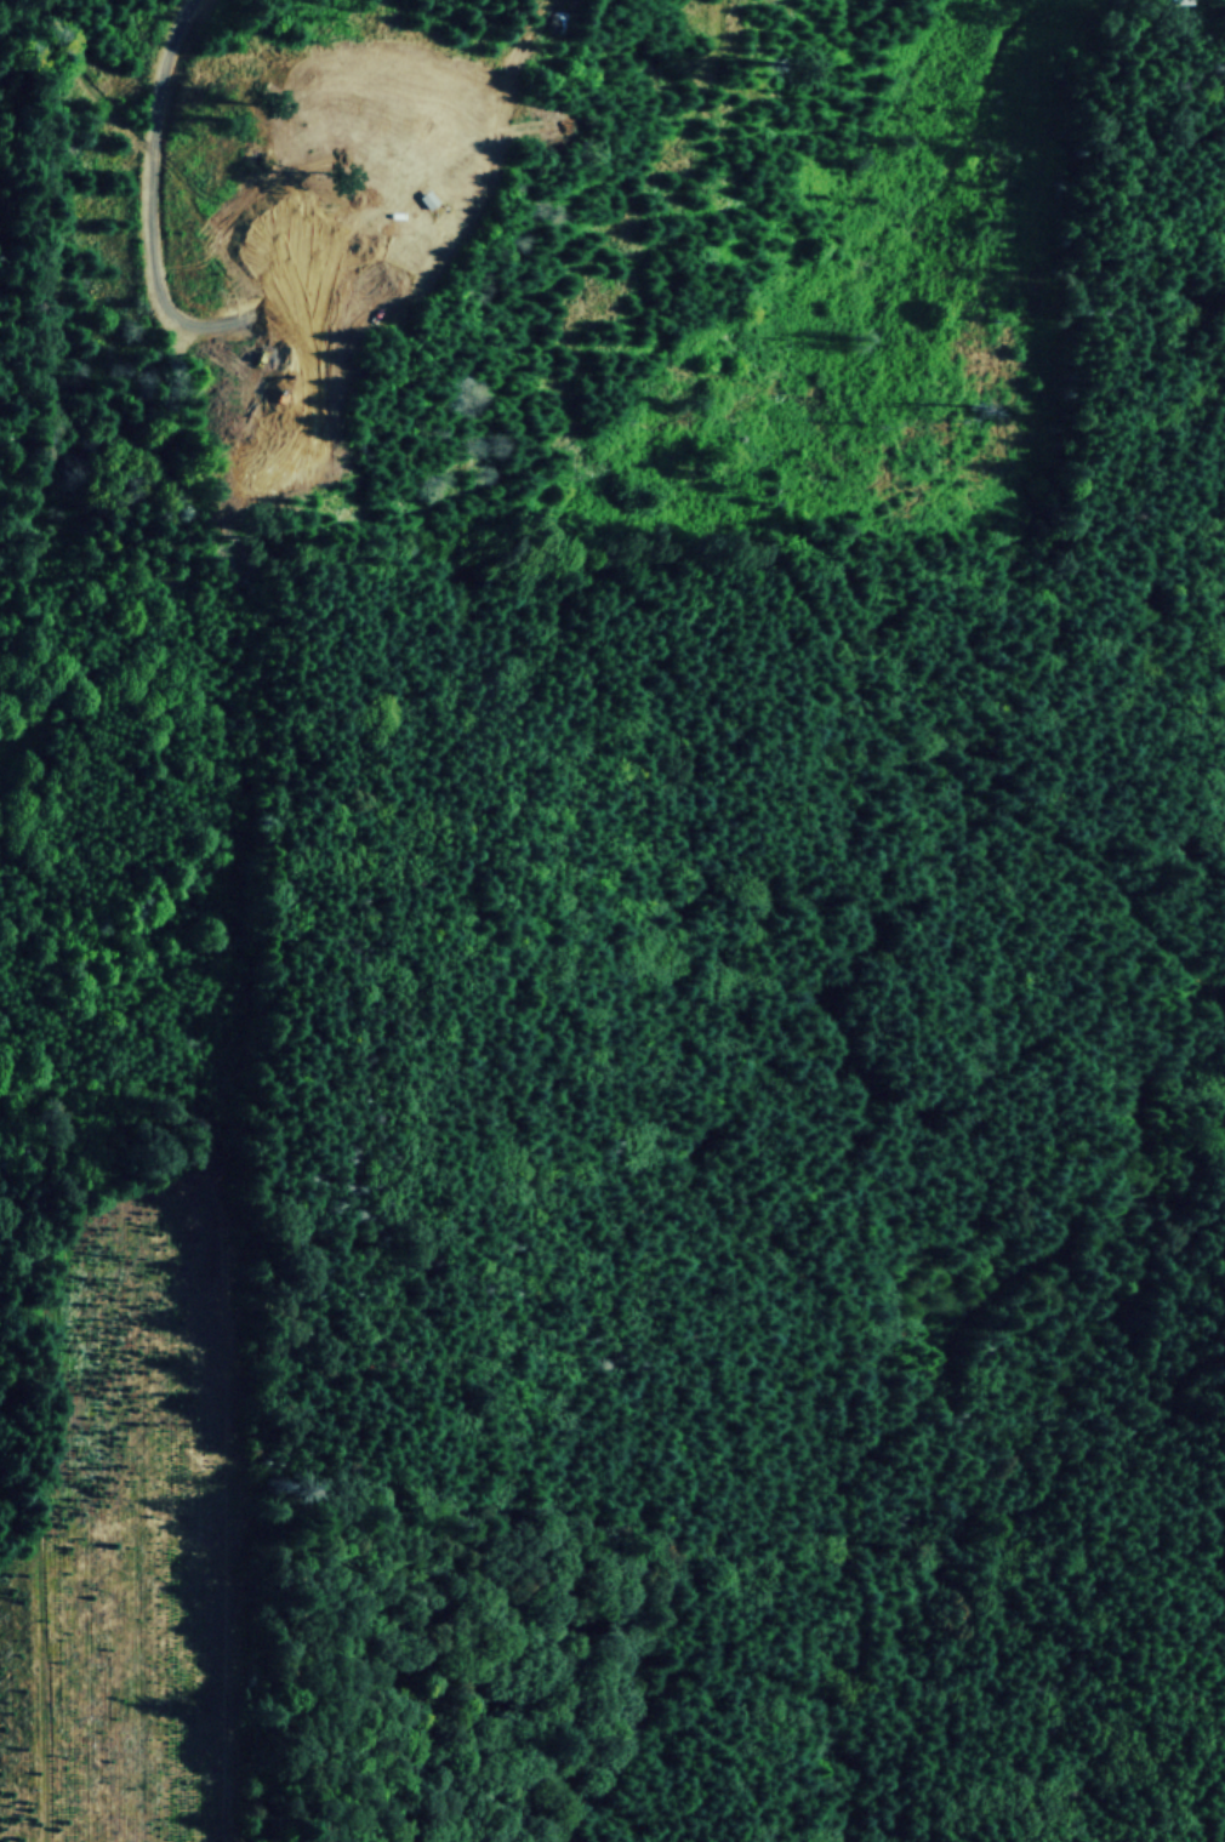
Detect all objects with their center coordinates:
road: (153, 238)

